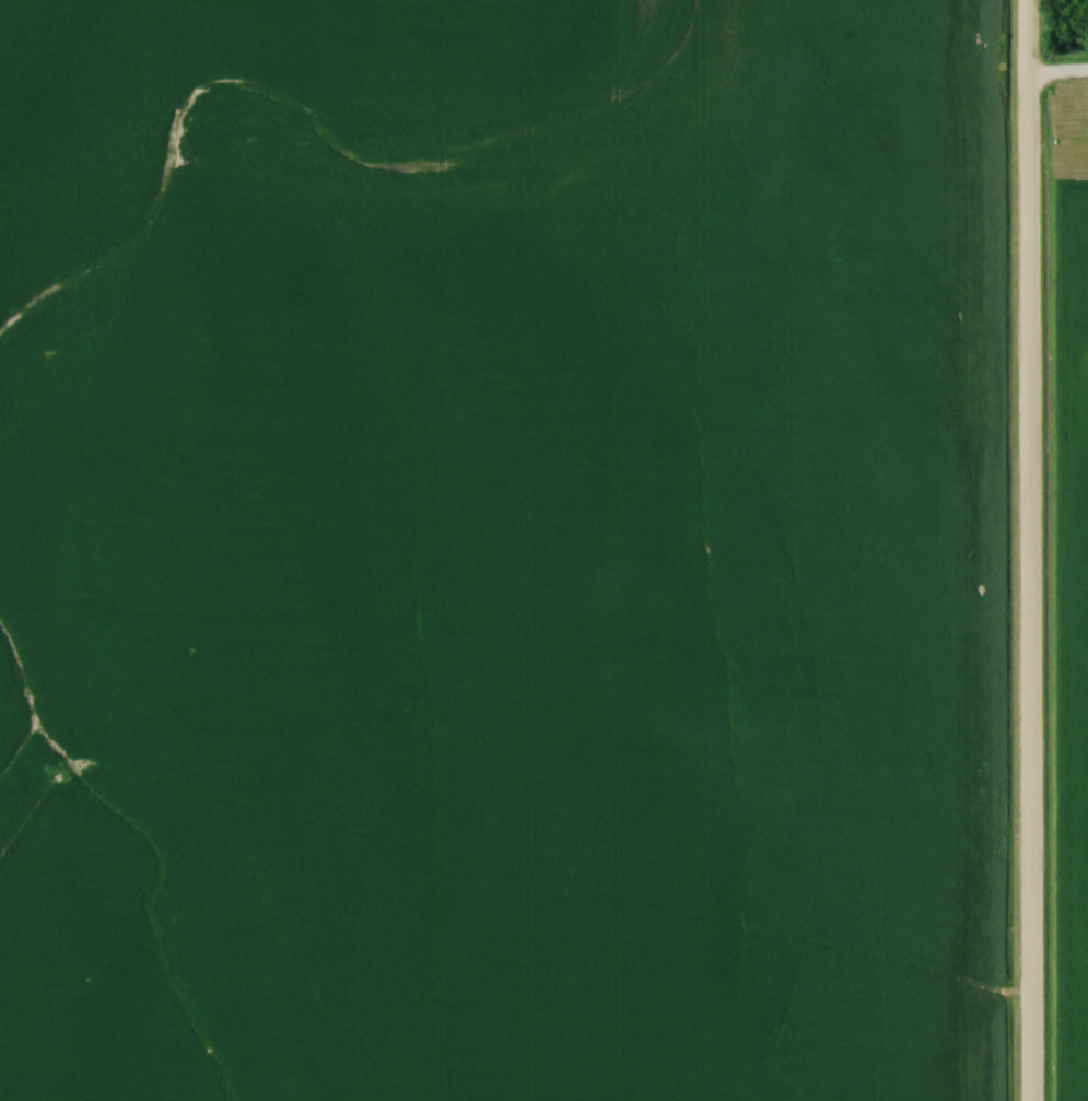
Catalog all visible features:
road: (1023, 550)

